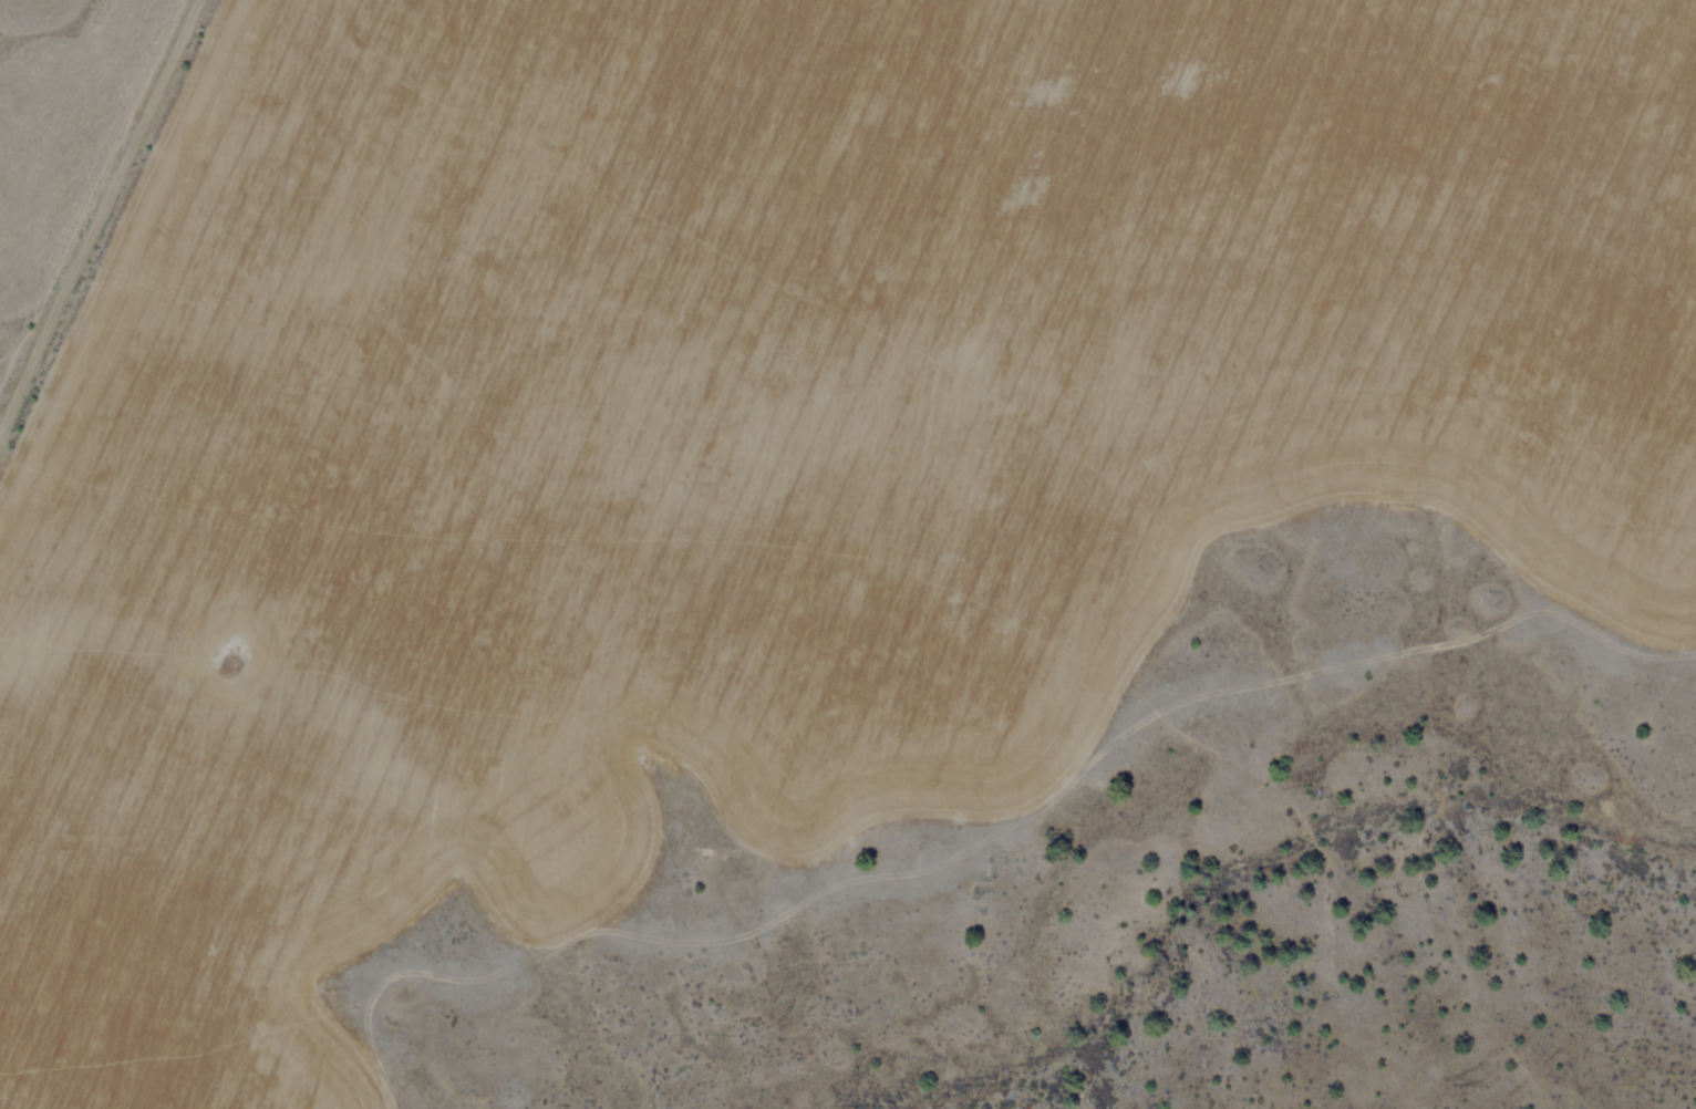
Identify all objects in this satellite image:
road: (100, 214)

